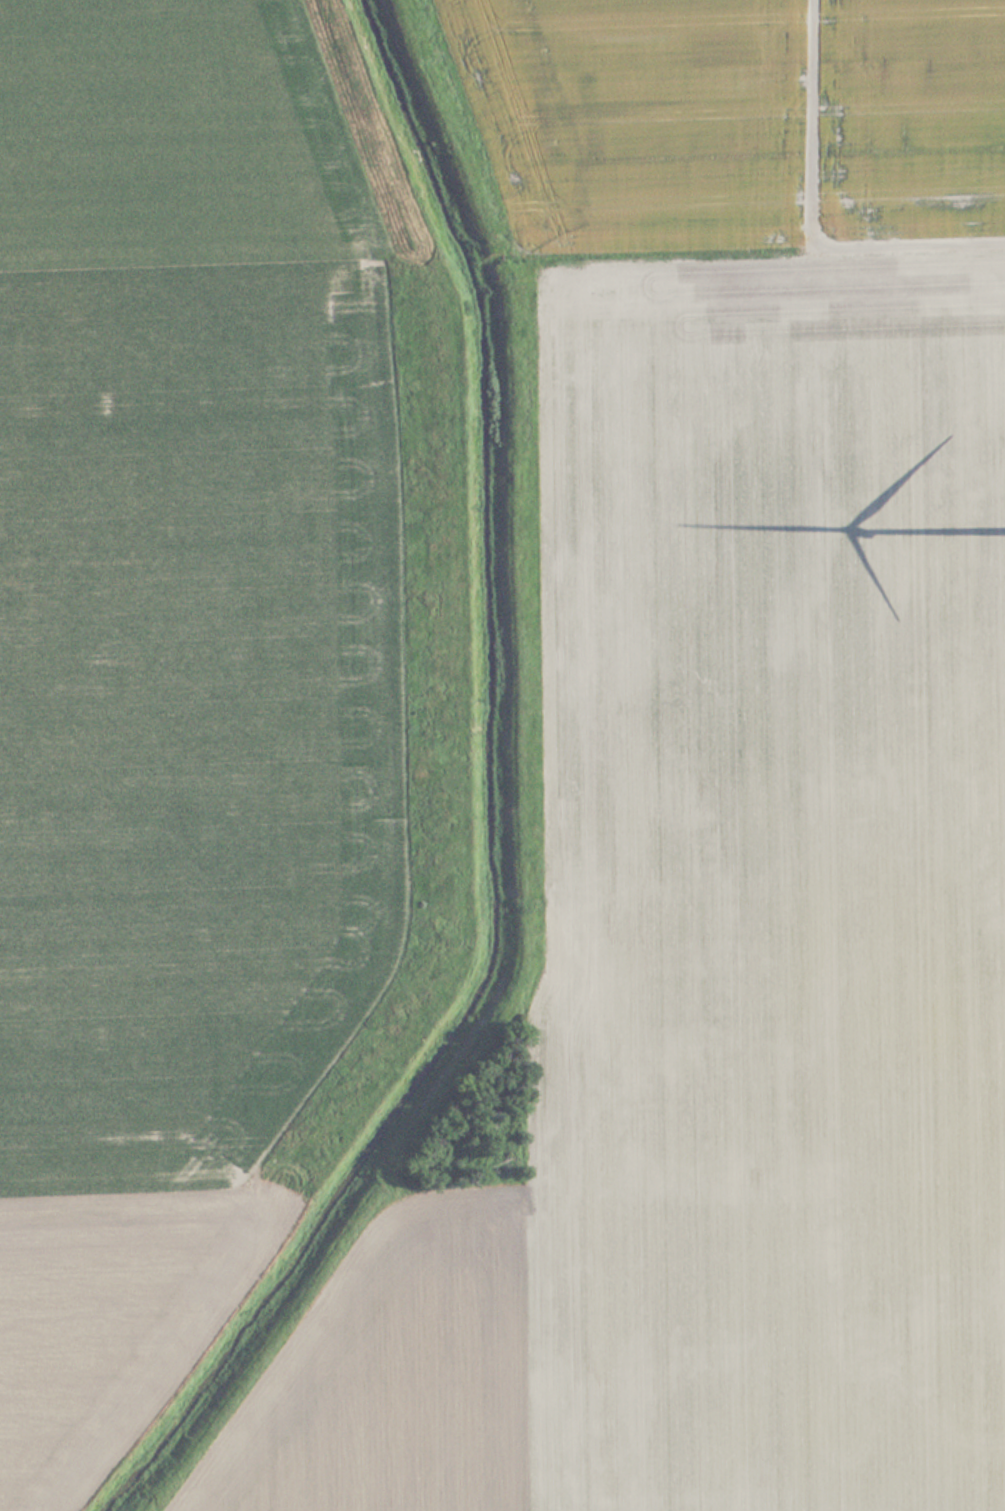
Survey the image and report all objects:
road: (803, 225)

